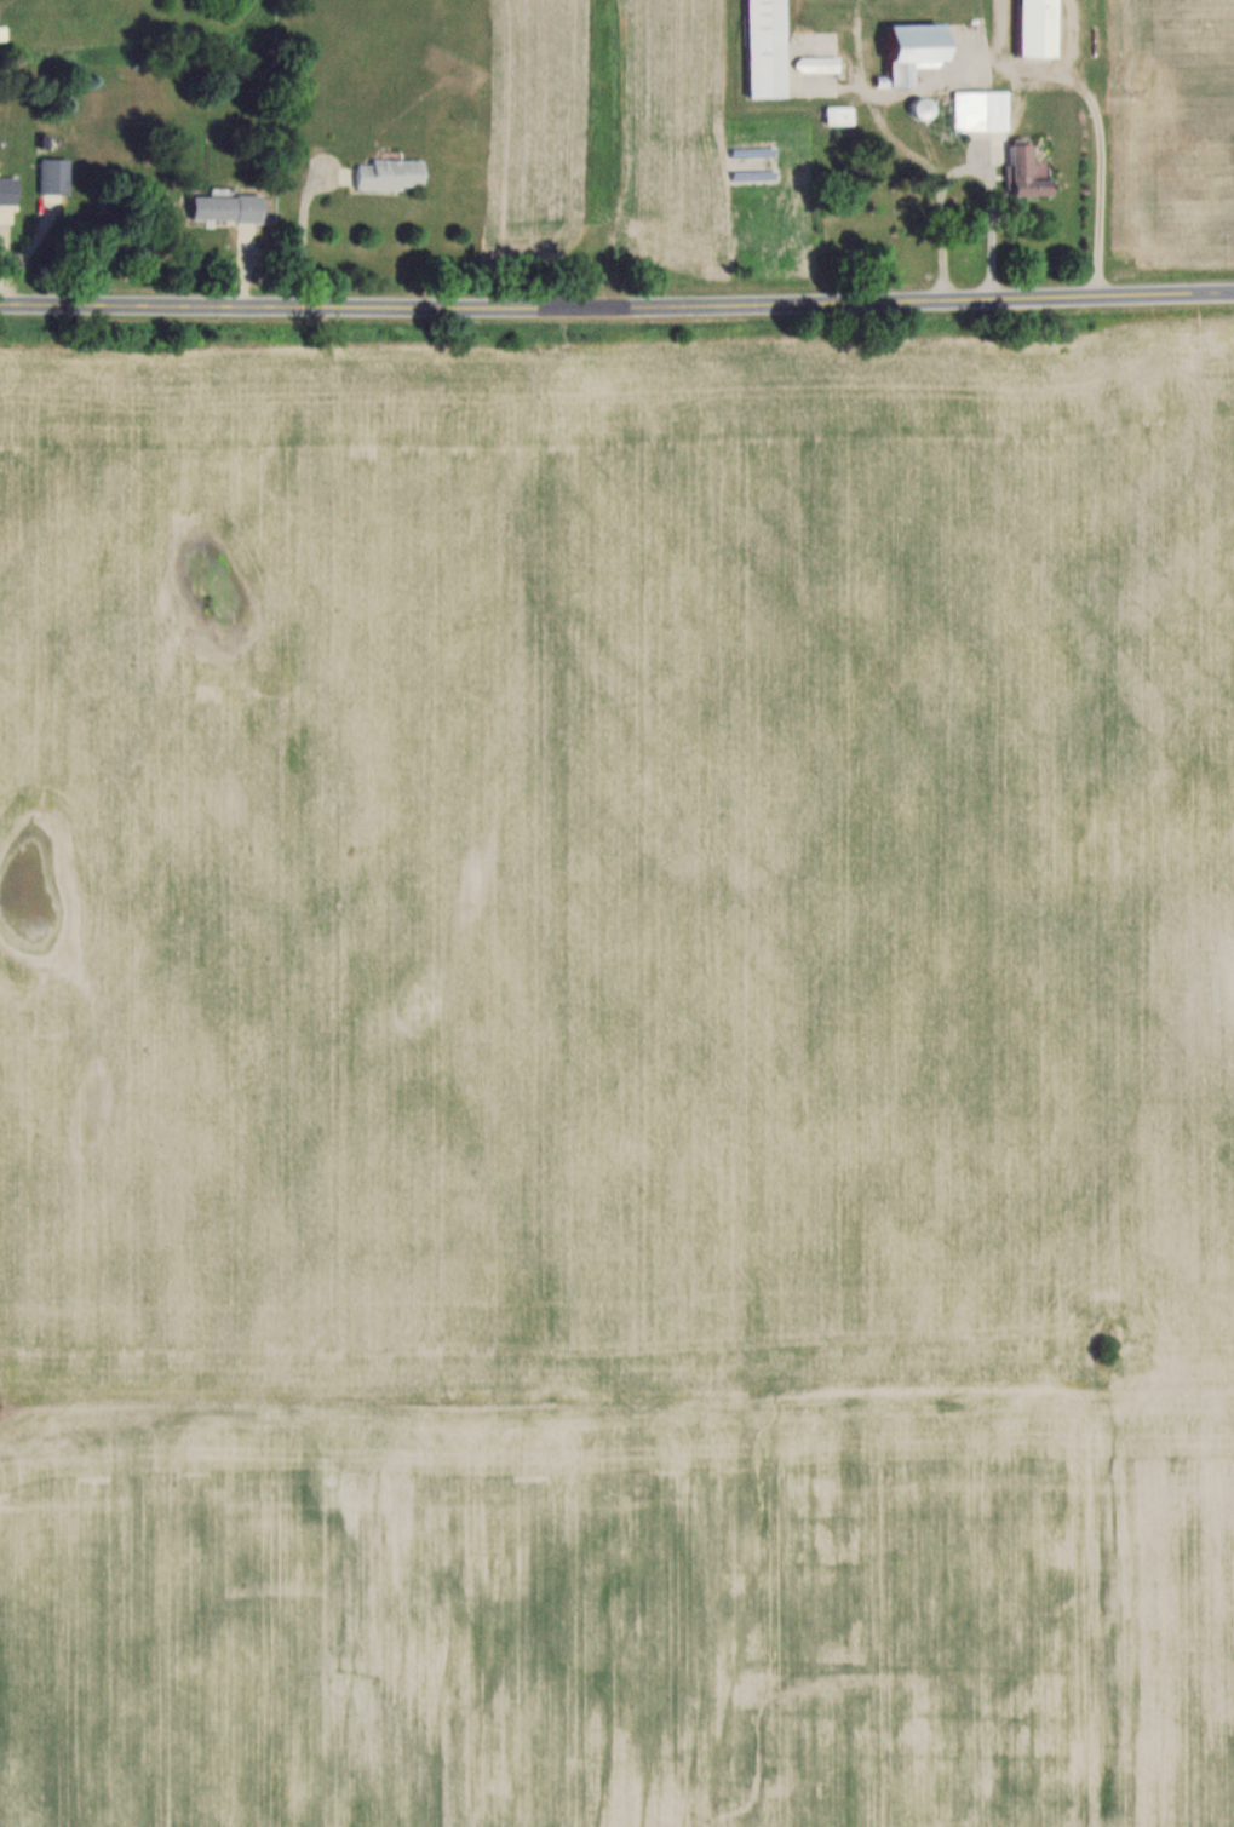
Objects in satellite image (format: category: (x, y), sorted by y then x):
building: (1041, 27)
building: (770, 47)
building: (922, 47)
building: (928, 105)
building: (983, 108)
road: (964, 166)
building: (1031, 171)
building: (392, 172)
road: (1100, 173)
building: (57, 174)
building: (10, 189)
building: (229, 205)
road: (304, 224)
road: (616, 304)

